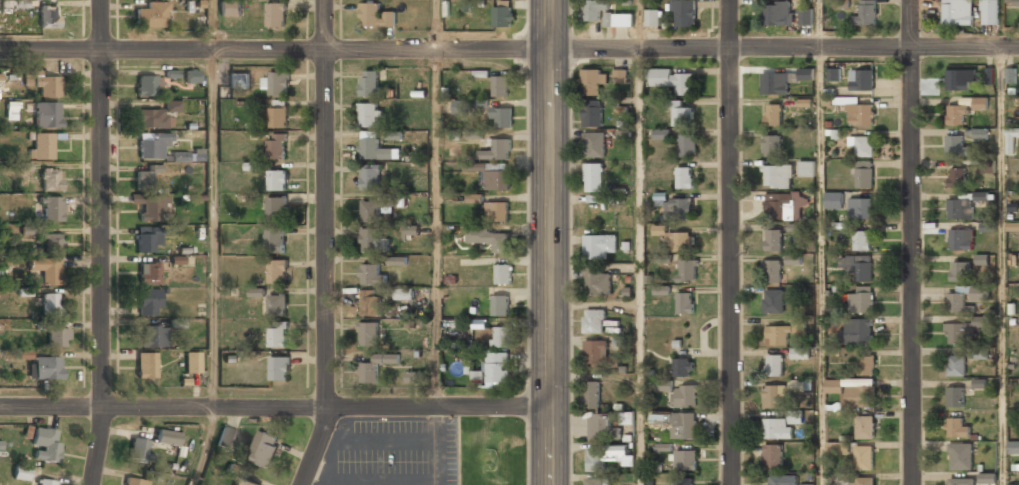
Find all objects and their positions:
building: (1014, 2)
building: (14, 4)
building: (230, 8)
building: (593, 10)
building: (683, 11)
building: (503, 12)
building: (865, 12)
building: (958, 12)
building: (990, 12)
building: (276, 13)
building: (777, 13)
building: (375, 14)
building: (152, 15)
building: (48, 16)
building: (652, 17)
building: (806, 17)
building: (619, 19)
road: (1002, 23)
road: (639, 24)
road: (818, 24)
road: (211, 25)
road: (436, 25)
road: (509, 50)
building: (834, 74)
building: (1010, 74)
building: (620, 75)
building: (192, 76)
building: (239, 78)
building: (782, 79)
building: (862, 79)
building: (960, 79)
building: (674, 80)
building: (591, 81)
building: (276, 82)
building: (369, 82)
building: (43, 83)
building: (500, 85)
building: (146, 86)
building: (172, 106)
building: (964, 108)
building: (11, 111)
building: (593, 112)
building: (859, 113)
building: (368, 114)
building: (773, 114)
building: (47, 115)
building: (683, 116)
building: (278, 117)
building: (501, 117)
building: (152, 119)
building: (475, 133)
building: (662, 134)
building: (1011, 140)
building: (594, 144)
building: (688, 144)
building: (152, 145)
building: (771, 145)
building: (954, 145)
building: (42, 146)
building: (277, 146)
building: (863, 146)
building: (374, 147)
building: (496, 149)
building: (988, 166)
building: (470, 167)
building: (807, 168)
building: (863, 174)
building: (371, 176)
building: (593, 176)
building: (778, 176)
building: (957, 176)
building: (684, 177)
building: (148, 178)
building: (497, 178)
building: (51, 179)
building: (277, 179)
building: (475, 198)
building: (834, 200)
building: (964, 204)
building: (778, 205)
building: (276, 207)
building: (679, 208)
building: (860, 208)
building: (52, 209)
building: (151, 209)
building: (371, 210)
building: (496, 211)
building: (1013, 226)
road: (435, 228)
road: (213, 229)
building: (411, 229)
building: (29, 230)
building: (275, 238)
building: (490, 238)
building: (677, 238)
building: (371, 239)
building: (960, 239)
building: (148, 240)
building: (773, 240)
building: (861, 240)
road: (101, 242)
road: (549, 242)
road: (730, 242)
road: (912, 242)
building: (51, 243)
road: (327, 244)
building: (599, 245)
building: (794, 259)
building: (982, 259)
building: (397, 260)
road: (821, 266)
road: (1001, 266)
road: (640, 267)
building: (857, 267)
building: (46, 269)
building: (278, 270)
building: (687, 270)
building: (772, 270)
building: (958, 270)
building: (149, 273)
building: (371, 274)
building: (502, 274)
building: (597, 281)
building: (661, 290)
building: (257, 291)
building: (404, 292)
building: (966, 296)
building: (773, 300)
building: (860, 300)
building: (150, 302)
building: (370, 302)
building: (685, 302)
building: (277, 303)
building: (51, 305)
building: (500, 305)
building: (593, 321)
building: (858, 331)
building: (368, 333)
building: (781, 333)
building: (959, 333)
building: (277, 334)
building: (153, 336)
building: (501, 336)
building: (57, 337)
building: (801, 352)
building: (598, 353)
building: (980, 353)
building: (24, 354)
building: (192, 362)
building: (774, 364)
building: (866, 364)
building: (146, 365)
building: (956, 365)
building: (279, 366)
building: (376, 366)
building: (683, 366)
building: (47, 368)
building: (494, 368)
building: (415, 377)
building: (663, 384)
building: (853, 389)
building: (591, 394)
building: (685, 395)
building: (774, 395)
building: (954, 396)
road: (275, 408)
building: (627, 417)
building: (796, 417)
building: (677, 423)
building: (864, 425)
building: (600, 427)
building: (778, 427)
building: (957, 427)
building: (167, 437)
building: (226, 437)
building: (45, 444)
road: (207, 447)
building: (1013, 447)
building: (264, 448)
building: (837, 448)
building: (139, 449)
building: (773, 456)
building: (960, 456)
building: (864, 457)
building: (596, 459)
building: (685, 460)
building: (21, 471)
building: (987, 477)
building: (841, 478)
building: (596, 480)
building: (783, 480)
building: (866, 480)
building: (135, 481)
building: (961, 481)
building: (45, 482)
building: (243, 482)
building: (684, 483)
building: (807, 484)
building: (1014, 484)

